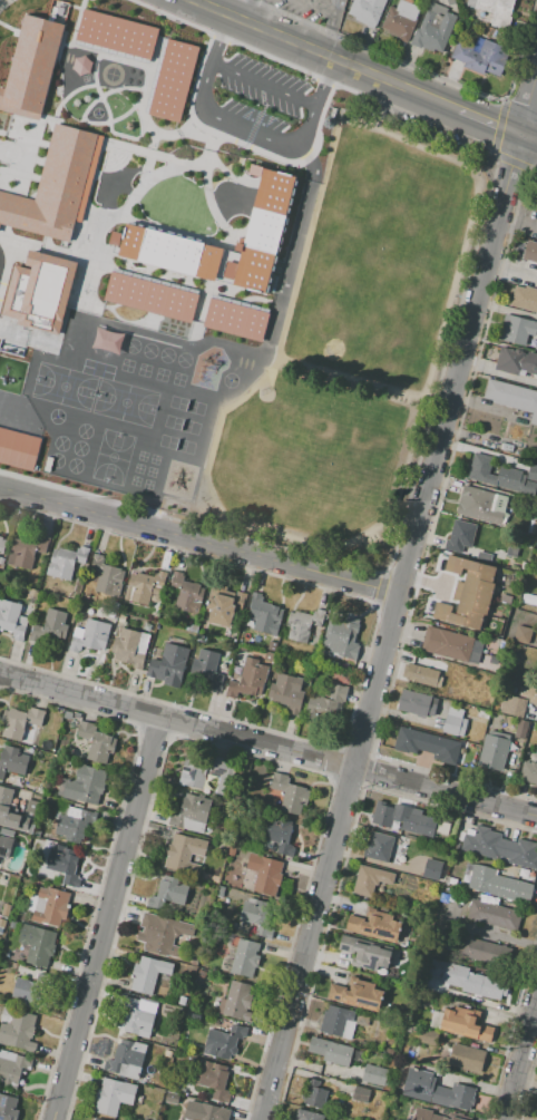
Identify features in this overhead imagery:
building: (450, 2)
road: (245, 10)
building: (365, 10)
building: (497, 11)
road: (260, 13)
road: (332, 17)
building: (401, 19)
building: (433, 28)
building: (114, 33)
road: (323, 55)
building: (480, 56)
building: (31, 66)
building: (172, 79)
road: (263, 84)
road: (486, 124)
road: (246, 129)
road: (527, 140)
building: (52, 185)
building: (536, 207)
road: (516, 223)
building: (262, 231)
building: (168, 251)
building: (530, 252)
building: (38, 291)
building: (149, 296)
building: (524, 299)
building: (235, 318)
building: (516, 330)
building: (536, 345)
building: (516, 362)
building: (512, 398)
building: (18, 447)
building: (507, 447)
building: (479, 468)
building: (533, 471)
building: (478, 505)
building: (531, 527)
building: (459, 536)
building: (535, 542)
road: (198, 543)
building: (1, 544)
building: (27, 551)
building: (511, 551)
building: (1, 561)
building: (66, 562)
building: (105, 575)
building: (146, 587)
road: (399, 591)
building: (33, 593)
building: (186, 593)
building: (468, 593)
building: (529, 598)
building: (69, 604)
building: (223, 604)
building: (99, 613)
building: (265, 615)
building: (12, 620)
building: (120, 620)
building: (303, 624)
building: (49, 625)
building: (147, 627)
building: (193, 627)
building: (523, 634)
building: (343, 635)
building: (89, 636)
building: (201, 639)
building: (447, 644)
building: (330, 646)
building: (130, 647)
building: (242, 651)
building: (268, 655)
building: (271, 663)
building: (168, 665)
building: (207, 668)
building: (422, 675)
building: (248, 680)
building: (285, 692)
building: (528, 694)
building: (326, 702)
building: (416, 703)
building: (442, 707)
building: (514, 707)
building: (536, 707)
building: (482, 713)
building: (21, 721)
building: (455, 721)
building: (521, 729)
building: (96, 742)
road: (267, 746)
building: (427, 746)
building: (492, 752)
building: (536, 752)
building: (10, 761)
building: (208, 772)
building: (529, 772)
building: (86, 785)
building: (290, 793)
building: (7, 810)
building: (192, 814)
building: (403, 818)
building: (74, 824)
building: (279, 835)
building: (4, 846)
building: (379, 847)
building: (500, 847)
building: (184, 854)
building: (65, 867)
building: (431, 869)
building: (264, 874)
building: (370, 880)
building: (498, 885)
building: (168, 895)
building: (51, 907)
building: (492, 915)
building: (257, 916)
road: (105, 918)
building: (375, 925)
building: (162, 934)
building: (37, 944)
building: (484, 951)
building: (365, 952)
building: (245, 957)
building: (147, 974)
building: (475, 982)
building: (30, 992)
building: (357, 994)
building: (236, 1001)
building: (135, 1017)
building: (362, 1019)
building: (336, 1022)
building: (466, 1023)
road: (533, 1023)
building: (18, 1032)
building: (428, 1036)
building: (224, 1041)
building: (330, 1051)
road: (519, 1056)
building: (125, 1059)
building: (465, 1060)
building: (12, 1070)
building: (374, 1074)
building: (214, 1081)
building: (437, 1091)
building: (314, 1094)
building: (360, 1094)
building: (113, 1095)
building: (8, 1108)
building: (204, 1111)
building: (427, 1114)
building: (306, 1116)
building: (97, 1119)

